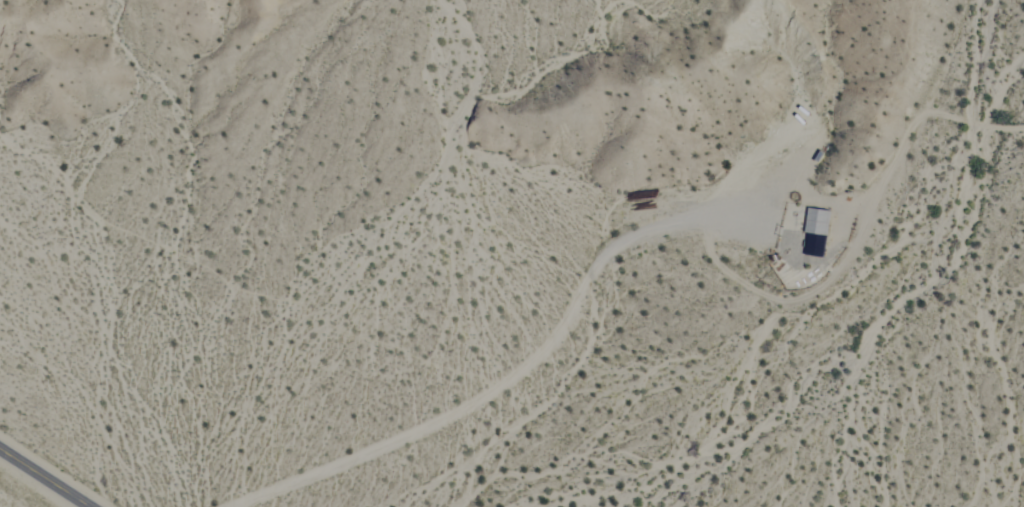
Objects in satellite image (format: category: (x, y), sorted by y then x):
road: (302, 195)
road: (23, 491)

